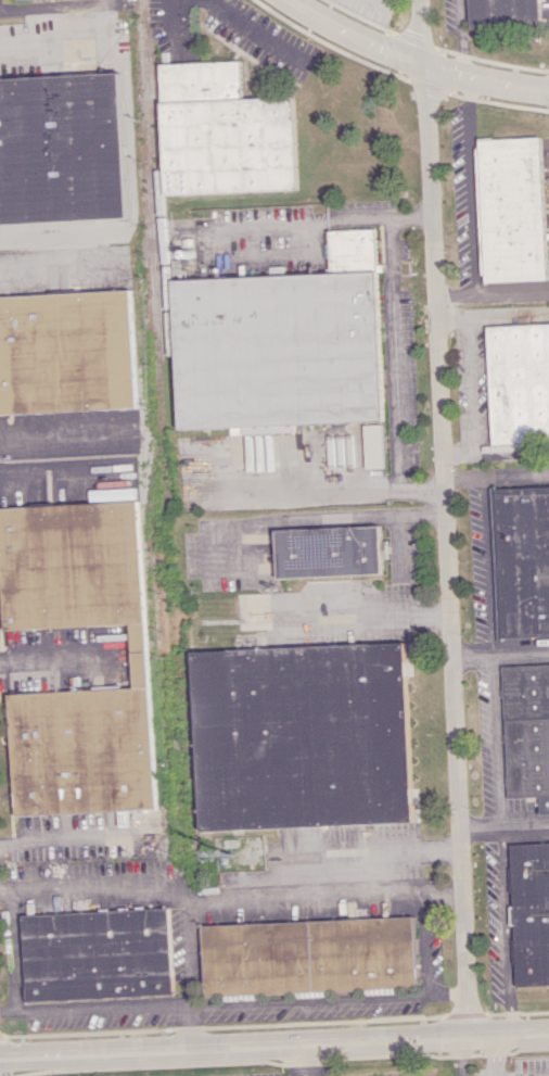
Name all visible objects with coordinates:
road: (58, 7)
building: (505, 13)
road: (251, 29)
road: (464, 37)
road: (51, 39)
road: (409, 59)
building: (220, 132)
building: (61, 149)
road: (471, 182)
railway: (157, 187)
building: (512, 210)
road: (323, 220)
railway: (152, 255)
road: (454, 295)
railway: (138, 327)
building: (279, 345)
building: (66, 352)
road: (391, 379)
road: (474, 381)
building: (519, 384)
road: (52, 443)
building: (369, 446)
road: (41, 472)
road: (496, 472)
road: (315, 490)
road: (445, 518)
road: (393, 547)
building: (327, 550)
road: (204, 560)
building: (523, 560)
road: (488, 561)
railway: (146, 606)
road: (498, 649)
building: (138, 659)
road: (56, 660)
railway: (170, 667)
building: (527, 732)
building: (299, 736)
road: (496, 737)
road: (502, 823)
road: (66, 836)
road: (227, 901)
building: (531, 912)
road: (506, 929)
road: (422, 944)
road: (15, 954)
building: (97, 954)
building: (306, 955)
road: (444, 995)
road: (302, 1001)
road: (97, 1008)
road: (181, 1028)
road: (274, 1046)
road: (491, 1055)
road: (457, 1056)
road: (289, 1061)

